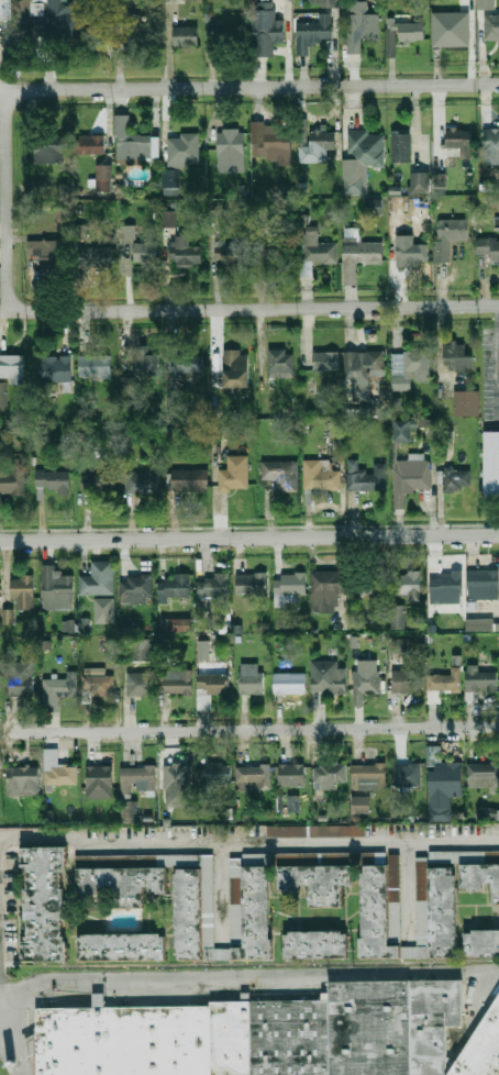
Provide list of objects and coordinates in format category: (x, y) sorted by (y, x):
building: (192, 0)
building: (322, 2)
building: (13, 4)
building: (487, 4)
building: (63, 20)
building: (268, 26)
building: (365, 26)
building: (451, 27)
building: (491, 27)
building: (129, 30)
building: (412, 32)
building: (314, 33)
building: (187, 35)
building: (225, 35)
building: (391, 38)
road: (275, 87)
building: (276, 142)
building: (459, 142)
building: (318, 143)
building: (88, 144)
building: (131, 144)
building: (231, 145)
building: (401, 145)
building: (491, 146)
building: (182, 147)
building: (49, 148)
building: (367, 148)
building: (103, 177)
building: (441, 180)
building: (170, 181)
building: (420, 182)
building: (353, 185)
building: (37, 187)
road: (8, 203)
building: (374, 207)
building: (169, 218)
building: (79, 232)
building: (130, 232)
building: (448, 236)
building: (278, 248)
building: (488, 248)
building: (318, 251)
building: (411, 252)
building: (53, 253)
building: (145, 253)
building: (186, 253)
building: (231, 255)
building: (96, 256)
building: (361, 257)
road: (276, 308)
road: (497, 345)
building: (457, 357)
building: (325, 361)
building: (145, 362)
building: (281, 363)
building: (186, 364)
building: (96, 365)
building: (363, 365)
building: (412, 365)
building: (12, 367)
building: (55, 368)
parking lot: (487, 368)
building: (237, 372)
building: (127, 386)
building: (3, 396)
building: (467, 403)
building: (372, 407)
building: (221, 429)
building: (403, 430)
building: (490, 463)
building: (235, 474)
building: (281, 475)
building: (321, 475)
building: (12, 476)
building: (367, 477)
building: (411, 478)
building: (190, 480)
building: (457, 480)
building: (53, 481)
building: (99, 481)
building: (143, 483)
road: (249, 537)
building: (484, 580)
building: (445, 583)
building: (290, 584)
building: (369, 584)
building: (410, 584)
building: (97, 585)
building: (251, 585)
building: (55, 586)
building: (214, 586)
building: (175, 587)
building: (135, 588)
building: (326, 590)
building: (23, 594)
building: (103, 610)
building: (8, 616)
building: (397, 617)
building: (225, 622)
building: (176, 624)
building: (479, 624)
building: (67, 625)
building: (85, 625)
building: (398, 645)
building: (142, 650)
building: (252, 678)
building: (329, 678)
building: (481, 679)
building: (404, 681)
building: (99, 683)
building: (176, 683)
building: (289, 683)
building: (141, 684)
building: (22, 685)
building: (210, 685)
building: (365, 685)
building: (441, 685)
building: (58, 690)
road: (258, 730)
building: (59, 769)
building: (218, 773)
building: (292, 774)
building: (331, 774)
building: (407, 774)
building: (484, 774)
building: (253, 775)
building: (21, 778)
building: (138, 778)
building: (100, 782)
building: (176, 783)
building: (366, 784)
building: (444, 784)
building: (292, 802)
building: (130, 811)
building: (486, 812)
building: (337, 830)
building: (286, 831)
road: (245, 845)
building: (451, 856)
building: (480, 877)
building: (317, 882)
building: (119, 885)
road: (406, 887)
building: (44, 904)
building: (375, 912)
building: (443, 912)
building: (187, 915)
building: (256, 915)
building: (483, 943)
building: (315, 944)
building: (122, 946)
road: (249, 979)
road: (1, 991)
road: (5, 999)
building: (390, 1028)
building: (270, 1037)
building: (125, 1041)
building: (481, 1049)

